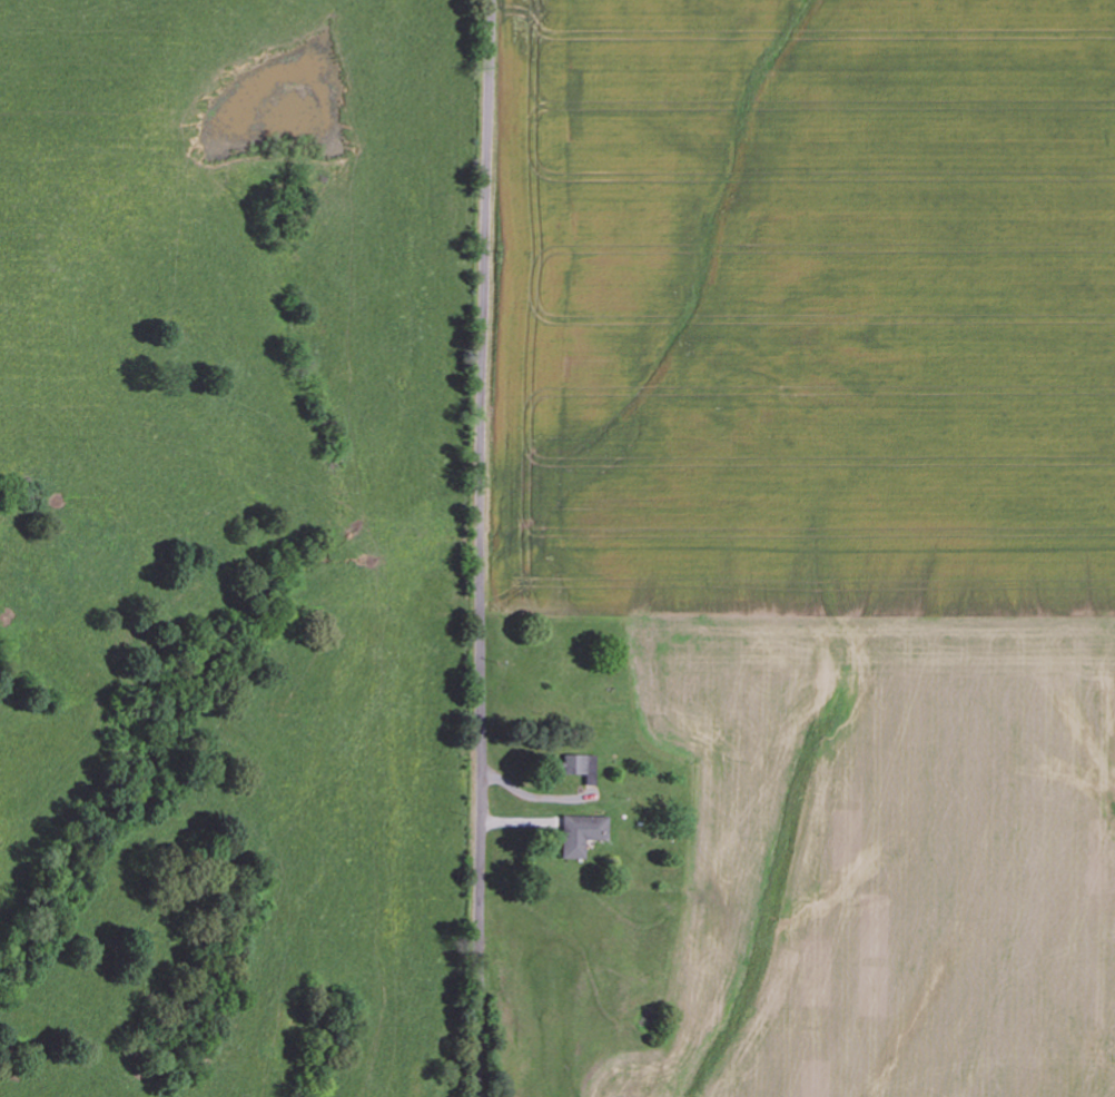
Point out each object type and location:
road: (478, 547)
building: (573, 763)
building: (580, 833)

